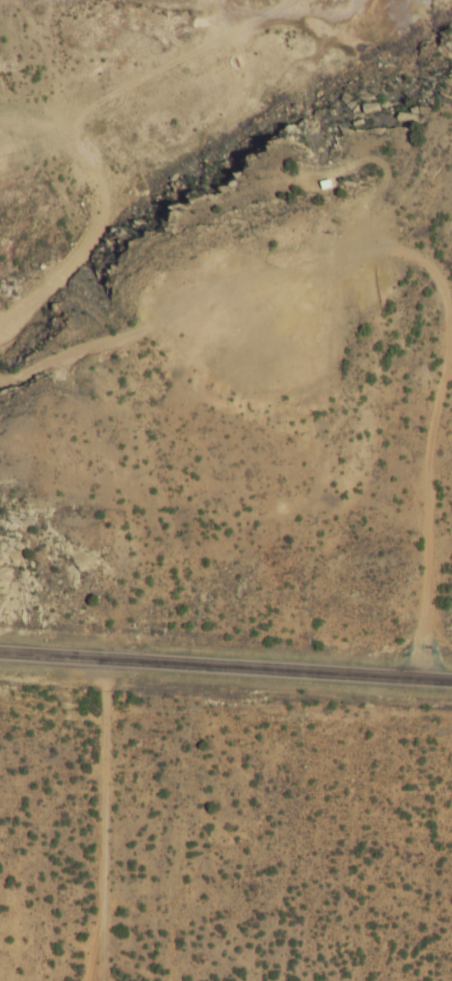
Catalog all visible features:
river: (92, 35)
road: (226, 667)

